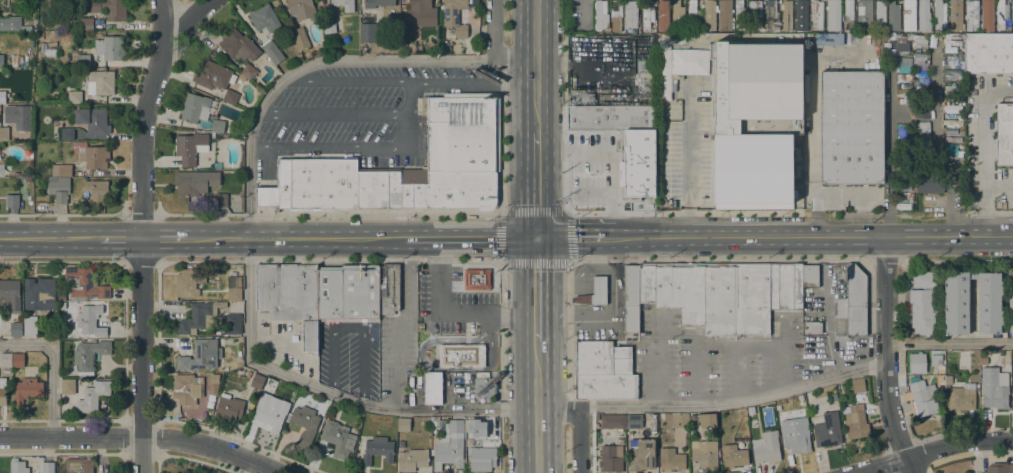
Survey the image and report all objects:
building: (376, 3)
building: (344, 4)
building: (300, 8)
building: (88, 9)
building: (648, 11)
building: (661, 11)
building: (422, 12)
building: (755, 12)
building: (864, 13)
building: (1001, 13)
building: (630, 14)
building: (739, 14)
building: (816, 14)
building: (456, 15)
building: (600, 15)
building: (709, 15)
building: (723, 15)
building: (787, 15)
building: (833, 15)
building: (848, 15)
building: (893, 15)
building: (909, 15)
building: (924, 15)
building: (939, 15)
building: (955, 15)
building: (971, 15)
building: (1012, 15)
building: (616, 16)
building: (694, 16)
building: (771, 16)
building: (801, 16)
building: (987, 16)
building: (677, 17)
building: (879, 17)
building: (264, 19)
road: (186, 22)
building: (10, 23)
building: (86, 24)
building: (328, 26)
building: (405, 30)
building: (368, 32)
building: (606, 32)
building: (885, 36)
building: (299, 38)
building: (238, 45)
building: (109, 47)
road: (494, 48)
building: (272, 52)
building: (988, 53)
building: (919, 55)
building: (3, 59)
building: (83, 61)
building: (688, 61)
building: (919, 65)
road: (536, 66)
road: (303, 67)
building: (903, 68)
building: (655, 70)
building: (248, 71)
building: (920, 74)
building: (952, 74)
building: (212, 75)
building: (100, 82)
road: (409, 82)
building: (914, 82)
building: (960, 85)
building: (919, 88)
building: (949, 90)
building: (903, 94)
building: (230, 96)
building: (2, 97)
building: (74, 97)
building: (2, 108)
building: (194, 108)
building: (921, 111)
road: (332, 112)
road: (408, 113)
building: (608, 116)
road: (142, 117)
building: (92, 120)
building: (756, 120)
building: (217, 126)
building: (851, 127)
building: (951, 130)
building: (67, 133)
building: (4, 134)
building: (1004, 134)
building: (921, 135)
building: (463, 136)
road: (813, 143)
road: (328, 144)
building: (190, 147)
road: (935, 149)
building: (953, 151)
road: (986, 153)
building: (91, 155)
road: (612, 155)
road: (890, 155)
building: (638, 161)
road: (684, 161)
building: (217, 166)
road: (563, 166)
building: (1, 170)
building: (61, 170)
building: (28, 178)
building: (929, 180)
building: (195, 182)
road: (536, 184)
building: (904, 184)
road: (999, 187)
building: (59, 189)
building: (97, 191)
building: (12, 200)
building: (220, 200)
road: (999, 212)
road: (405, 214)
road: (862, 214)
road: (565, 215)
road: (808, 236)
road: (570, 237)
road: (125, 238)
road: (393, 238)
traffic signals: (536, 238)
road: (718, 259)
road: (884, 259)
road: (957, 259)
road: (63, 262)
road: (140, 262)
road: (328, 262)
building: (810, 275)
building: (972, 275)
road: (536, 278)
building: (476, 279)
building: (924, 279)
building: (1010, 279)
building: (84, 283)
building: (185, 284)
building: (655, 285)
building: (785, 286)
building: (234, 288)
building: (388, 289)
building: (594, 292)
building: (39, 293)
building: (348, 293)
building: (688, 293)
building: (10, 295)
building: (290, 297)
building: (631, 297)
building: (61, 300)
building: (736, 300)
road: (901, 301)
building: (988, 302)
building: (956, 303)
building: (851, 304)
building: (1010, 310)
building: (922, 311)
road: (450, 313)
building: (199, 317)
road: (595, 318)
building: (89, 320)
building: (233, 323)
building: (29, 326)
building: (812, 327)
building: (15, 329)
road: (569, 329)
road: (536, 330)
road: (949, 342)
building: (89, 355)
road: (140, 355)
building: (200, 355)
building: (461, 355)
road: (885, 356)
building: (6, 360)
building: (18, 360)
building: (935, 360)
building: (917, 362)
road: (51, 367)
building: (603, 370)
building: (248, 374)
building: (213, 378)
building: (948, 380)
building: (257, 381)
building: (858, 385)
building: (483, 387)
building: (184, 388)
building: (432, 388)
building: (994, 388)
building: (29, 390)
building: (1012, 390)
building: (3, 391)
road: (330, 392)
building: (85, 394)
building: (923, 397)
building: (962, 397)
road: (732, 400)
building: (228, 407)
road: (536, 407)
road: (568, 410)
building: (63, 411)
building: (269, 416)
building: (597, 416)
building: (660, 416)
building: (779, 417)
road: (578, 420)
building: (703, 420)
building: (613, 421)
building: (633, 421)
building: (855, 421)
building: (304, 424)
building: (403, 424)
building: (471, 426)
building: (826, 429)
road: (142, 436)
building: (336, 438)
building: (796, 438)
road: (591, 439)
building: (449, 445)
building: (766, 447)
building: (377, 449)
road: (928, 450)
building: (641, 454)
building: (703, 454)
building: (733, 456)
building: (350, 457)
building: (610, 458)
building: (412, 459)
building: (671, 459)
building: (482, 460)
building: (78, 465)
building: (17, 466)
building: (47, 467)
building: (998, 468)

